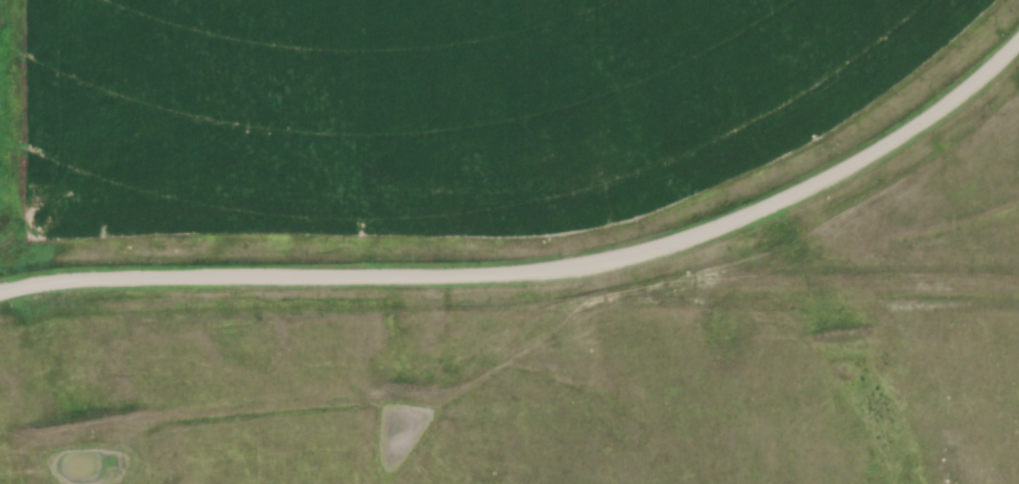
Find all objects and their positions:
road: (539, 268)

